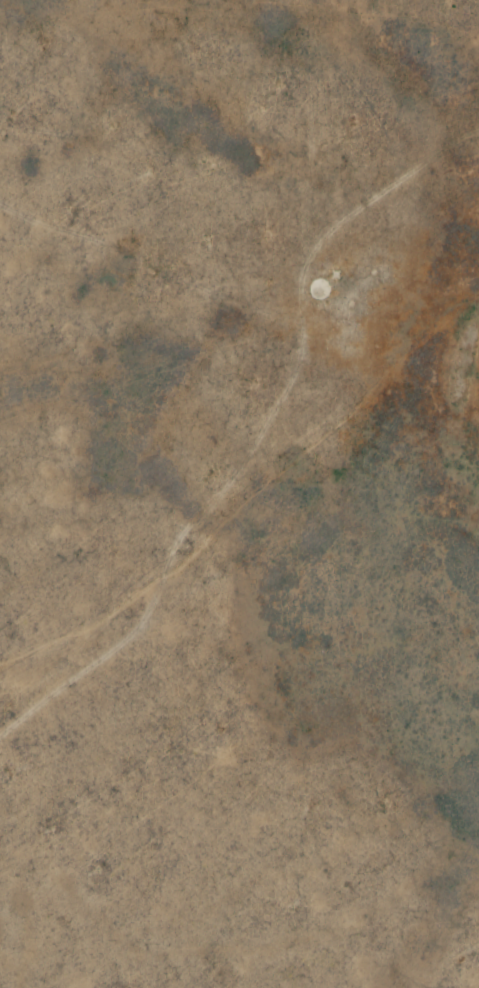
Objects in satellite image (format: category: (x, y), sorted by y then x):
road: (139, 216)

